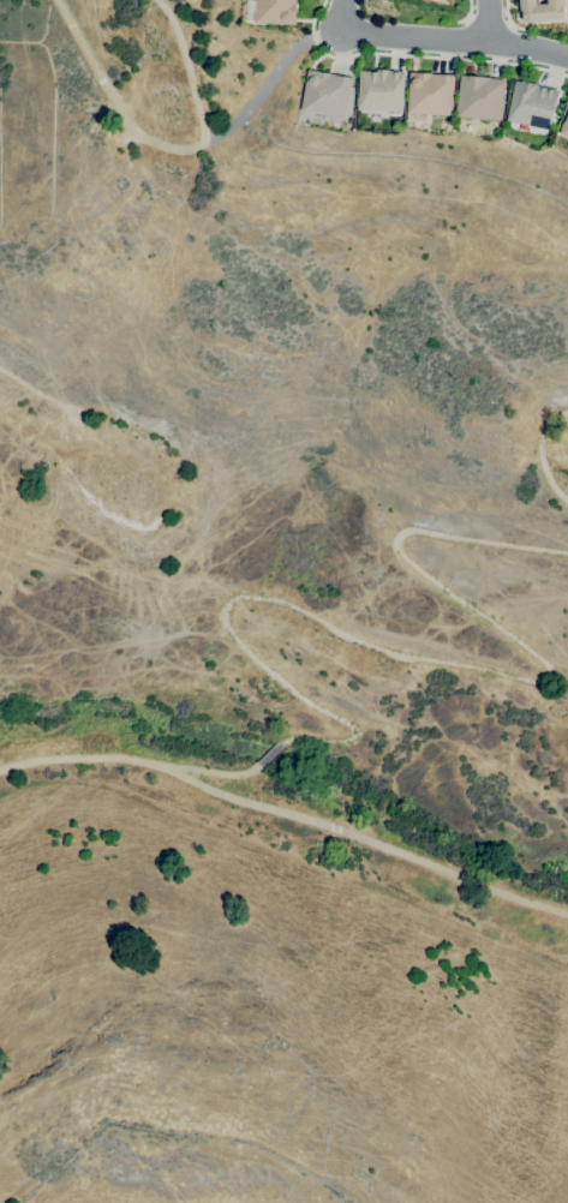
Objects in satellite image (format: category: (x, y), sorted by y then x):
building: (542, 10)
building: (271, 12)
road: (342, 16)
road: (468, 16)
road: (507, 18)
road: (488, 22)
road: (456, 40)
road: (415, 56)
road: (268, 78)
building: (379, 90)
building: (325, 94)
building: (430, 94)
building: (480, 97)
building: (532, 104)
building: (564, 127)
road: (167, 148)
road: (38, 395)
road: (540, 454)
park: (282, 467)
road: (438, 662)
road: (269, 754)
road: (22, 765)
road: (208, 771)
road: (309, 820)

